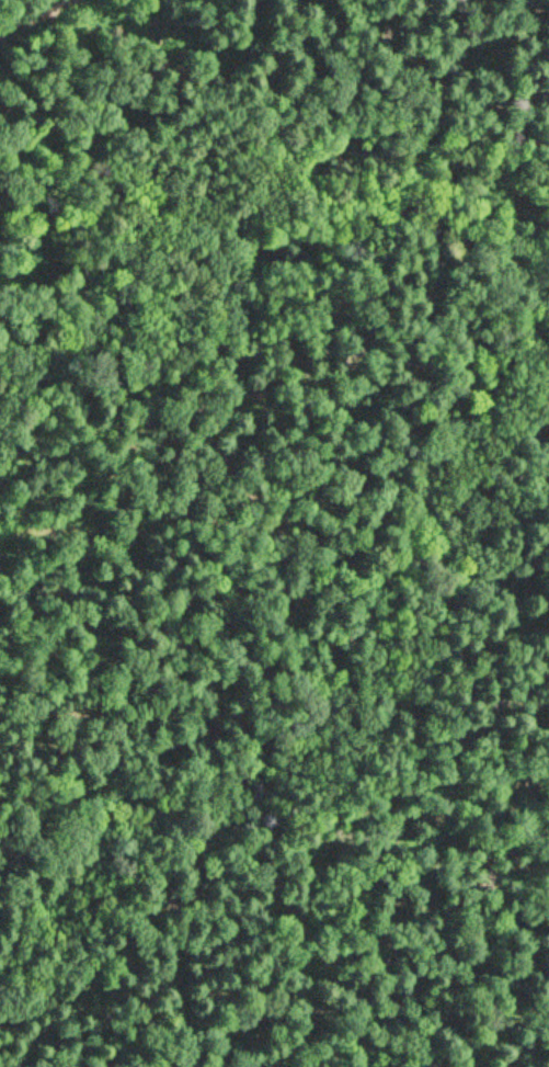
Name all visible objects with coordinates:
road: (22, 12)

